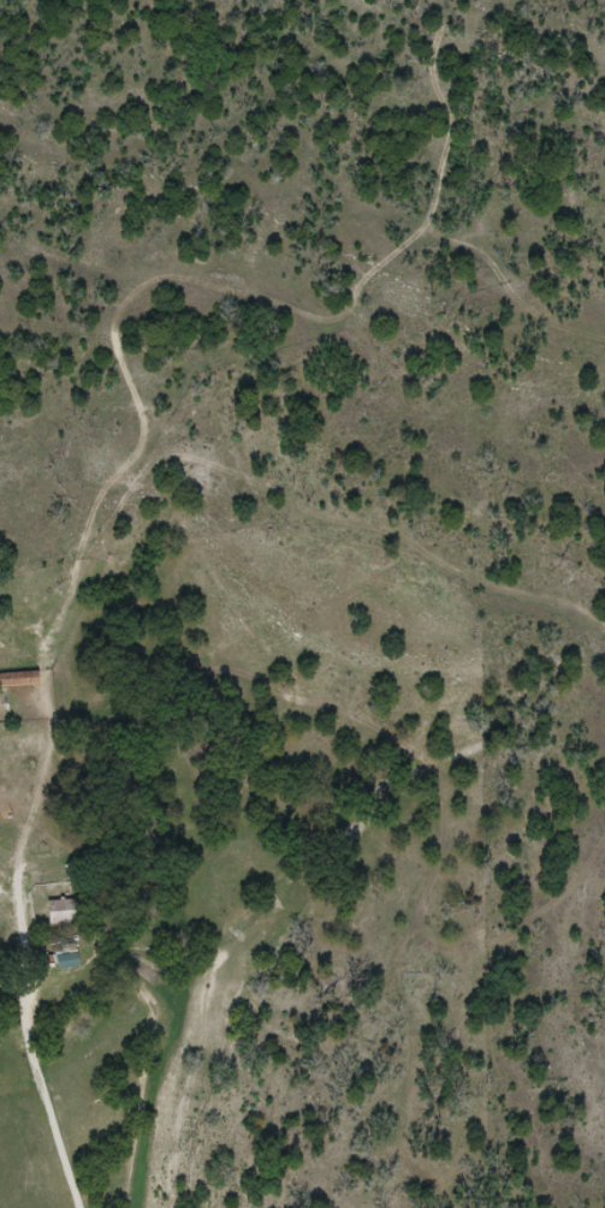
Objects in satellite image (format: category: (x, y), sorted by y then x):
building: (19, 680)
building: (65, 914)
road: (24, 970)

